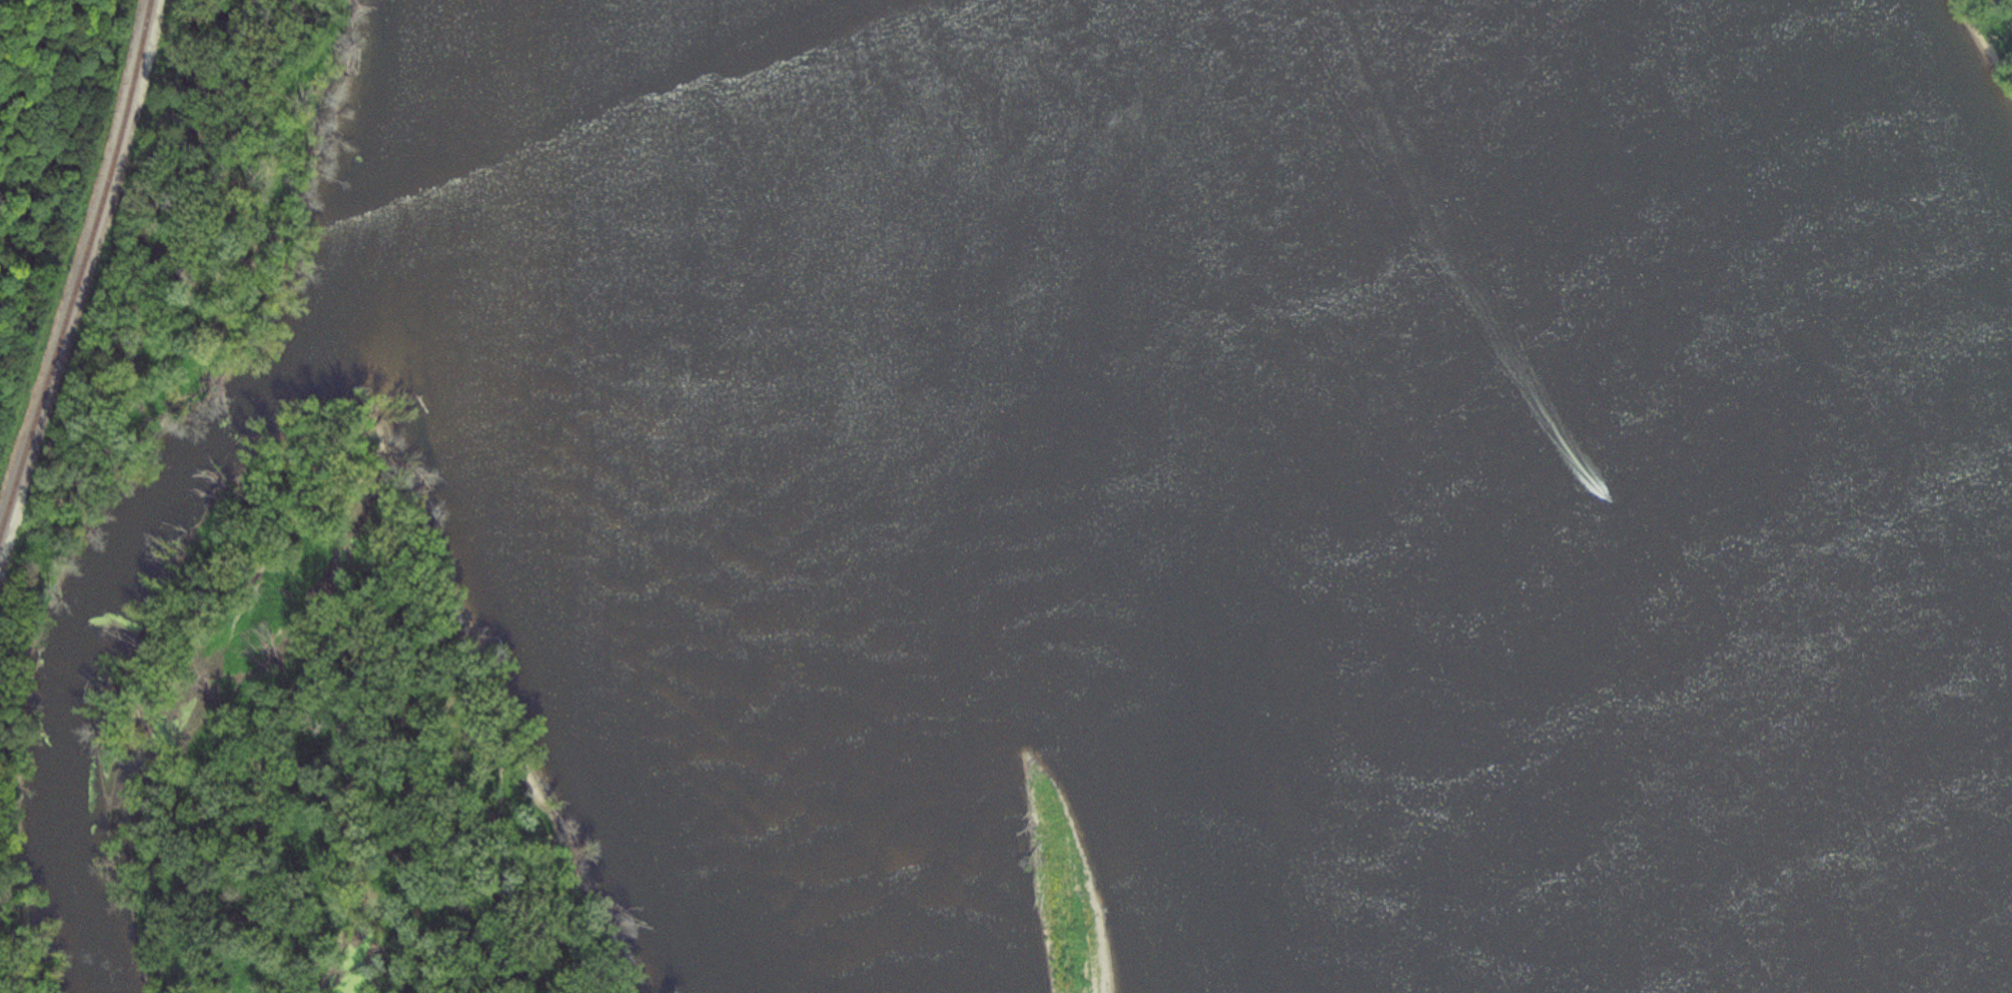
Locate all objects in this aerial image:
railway: (76, 266)
river: (1763, 393)
river: (89, 613)

